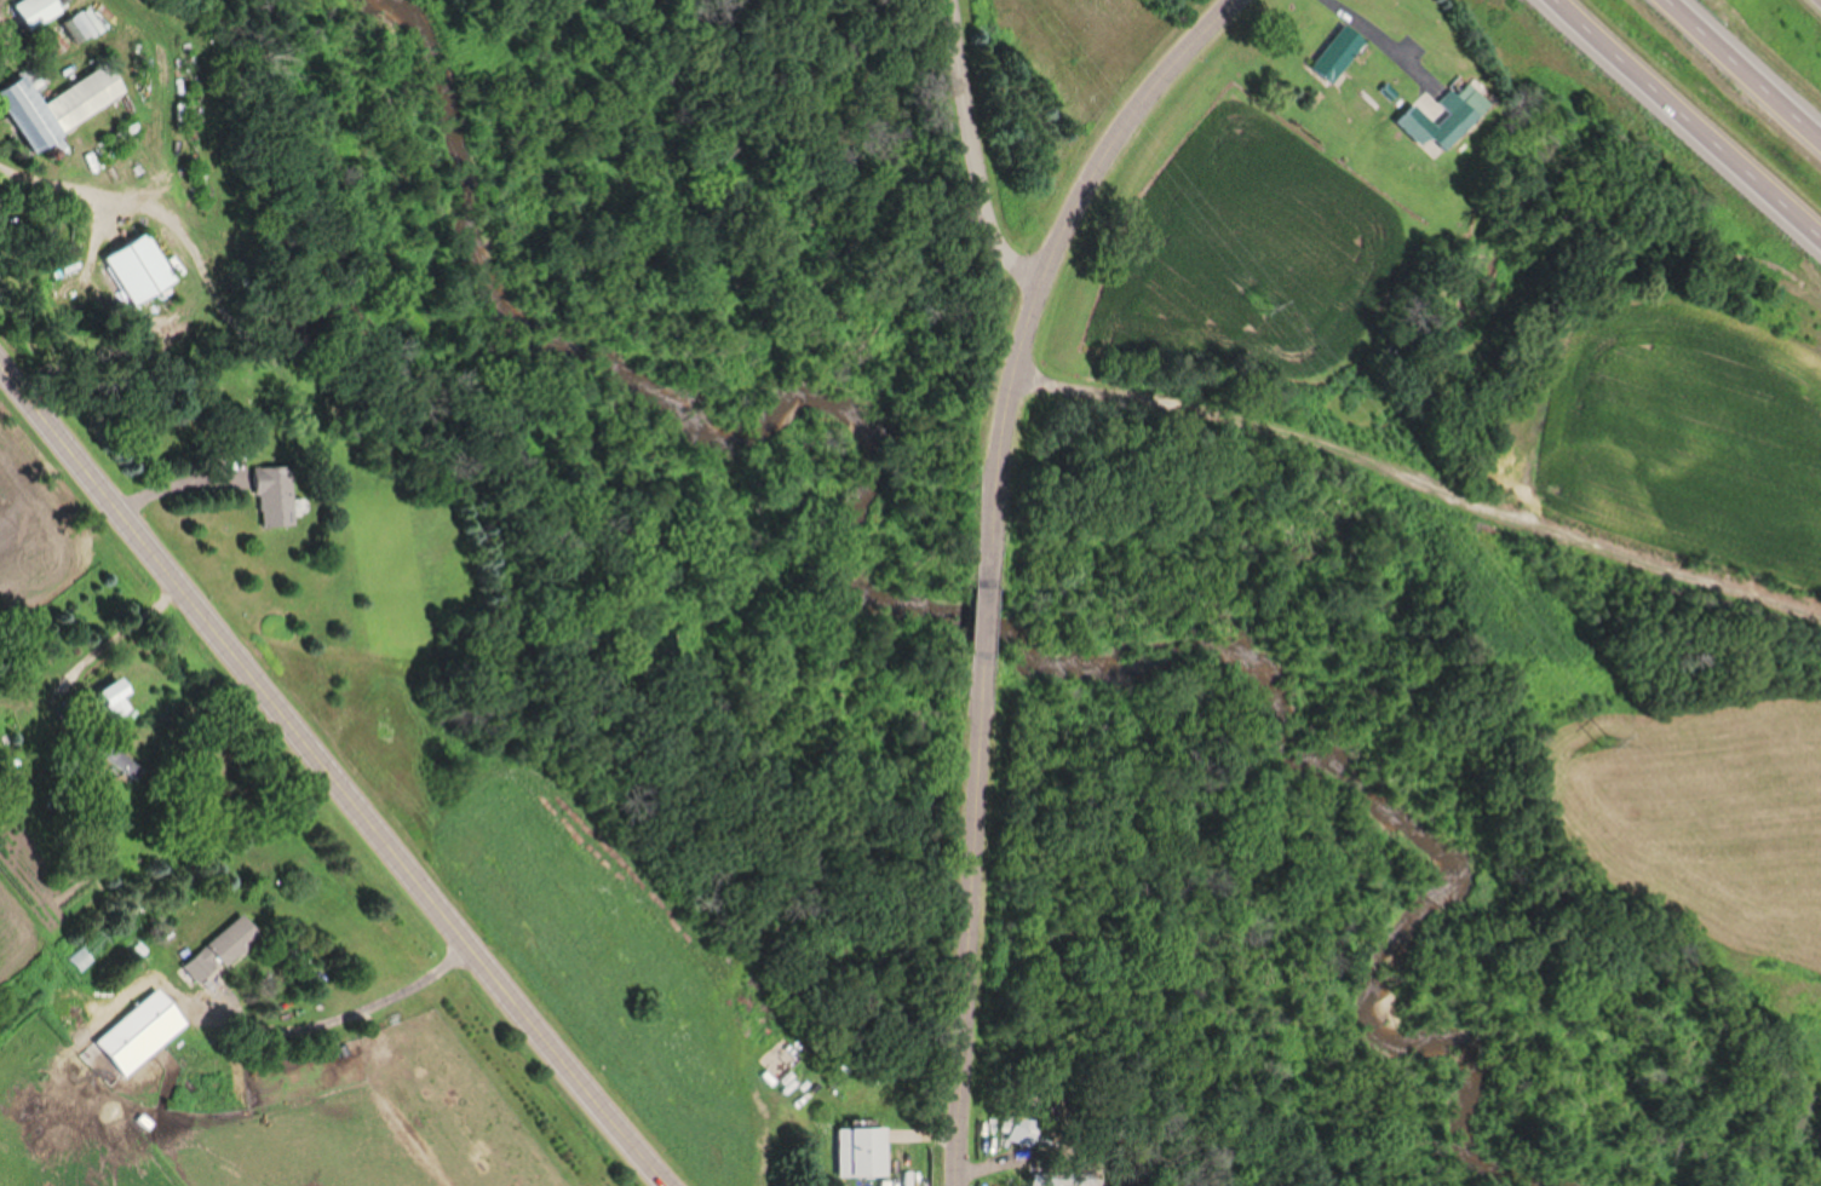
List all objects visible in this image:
building: (30, 13)
road: (1371, 35)
building: (1334, 54)
road: (1742, 69)
building: (51, 106)
building: (1436, 120)
road: (1679, 121)
road: (969, 152)
road: (1044, 266)
building: (133, 269)
power tower: (1257, 304)
building: (268, 497)
road: (982, 622)
building: (103, 701)
power tower: (1607, 742)
building: (114, 761)
road: (333, 777)
road: (965, 920)
building: (214, 949)
building: (150, 1021)
building: (1012, 1132)
building: (856, 1153)
building: (1055, 1179)

